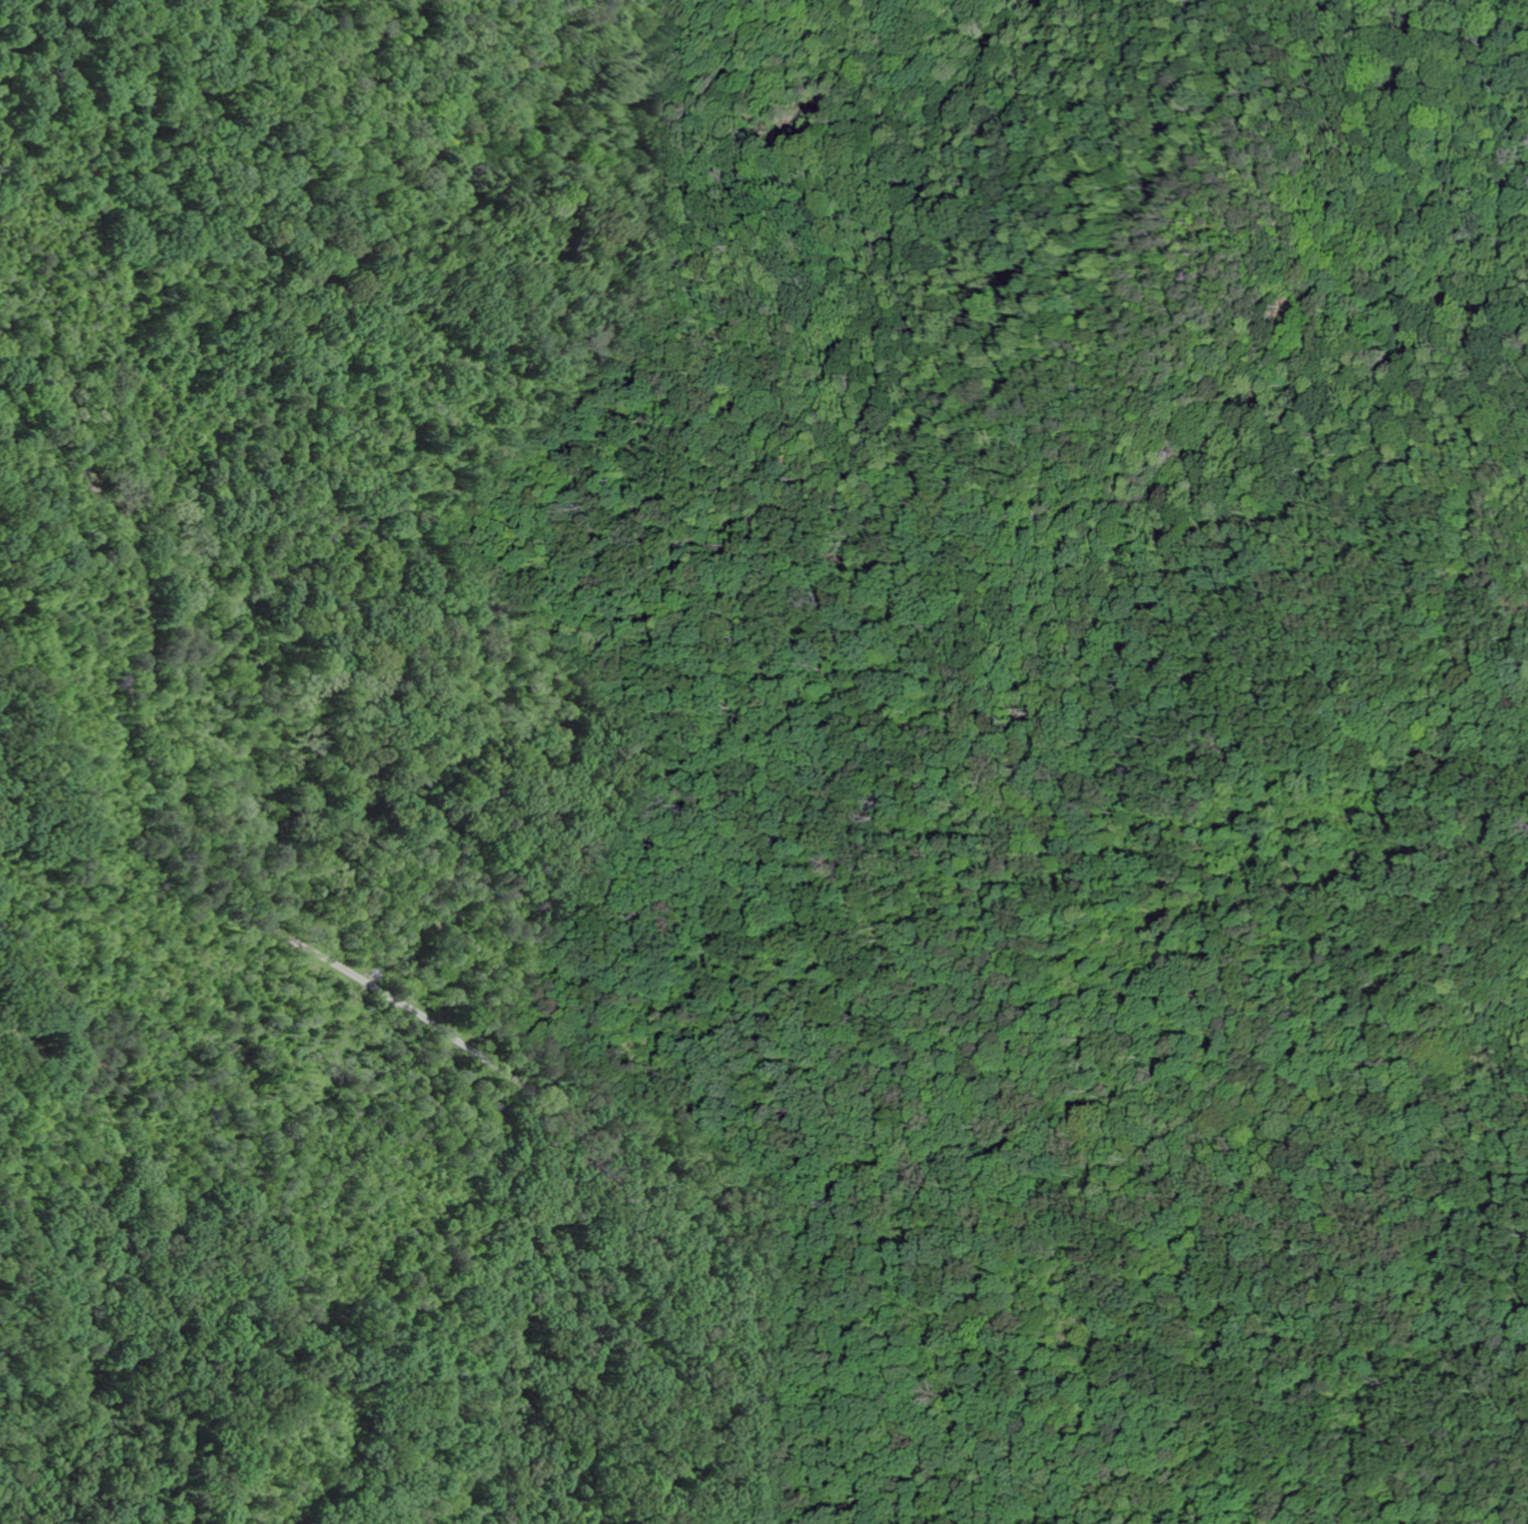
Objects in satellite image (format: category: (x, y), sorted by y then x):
road: (333, 959)

